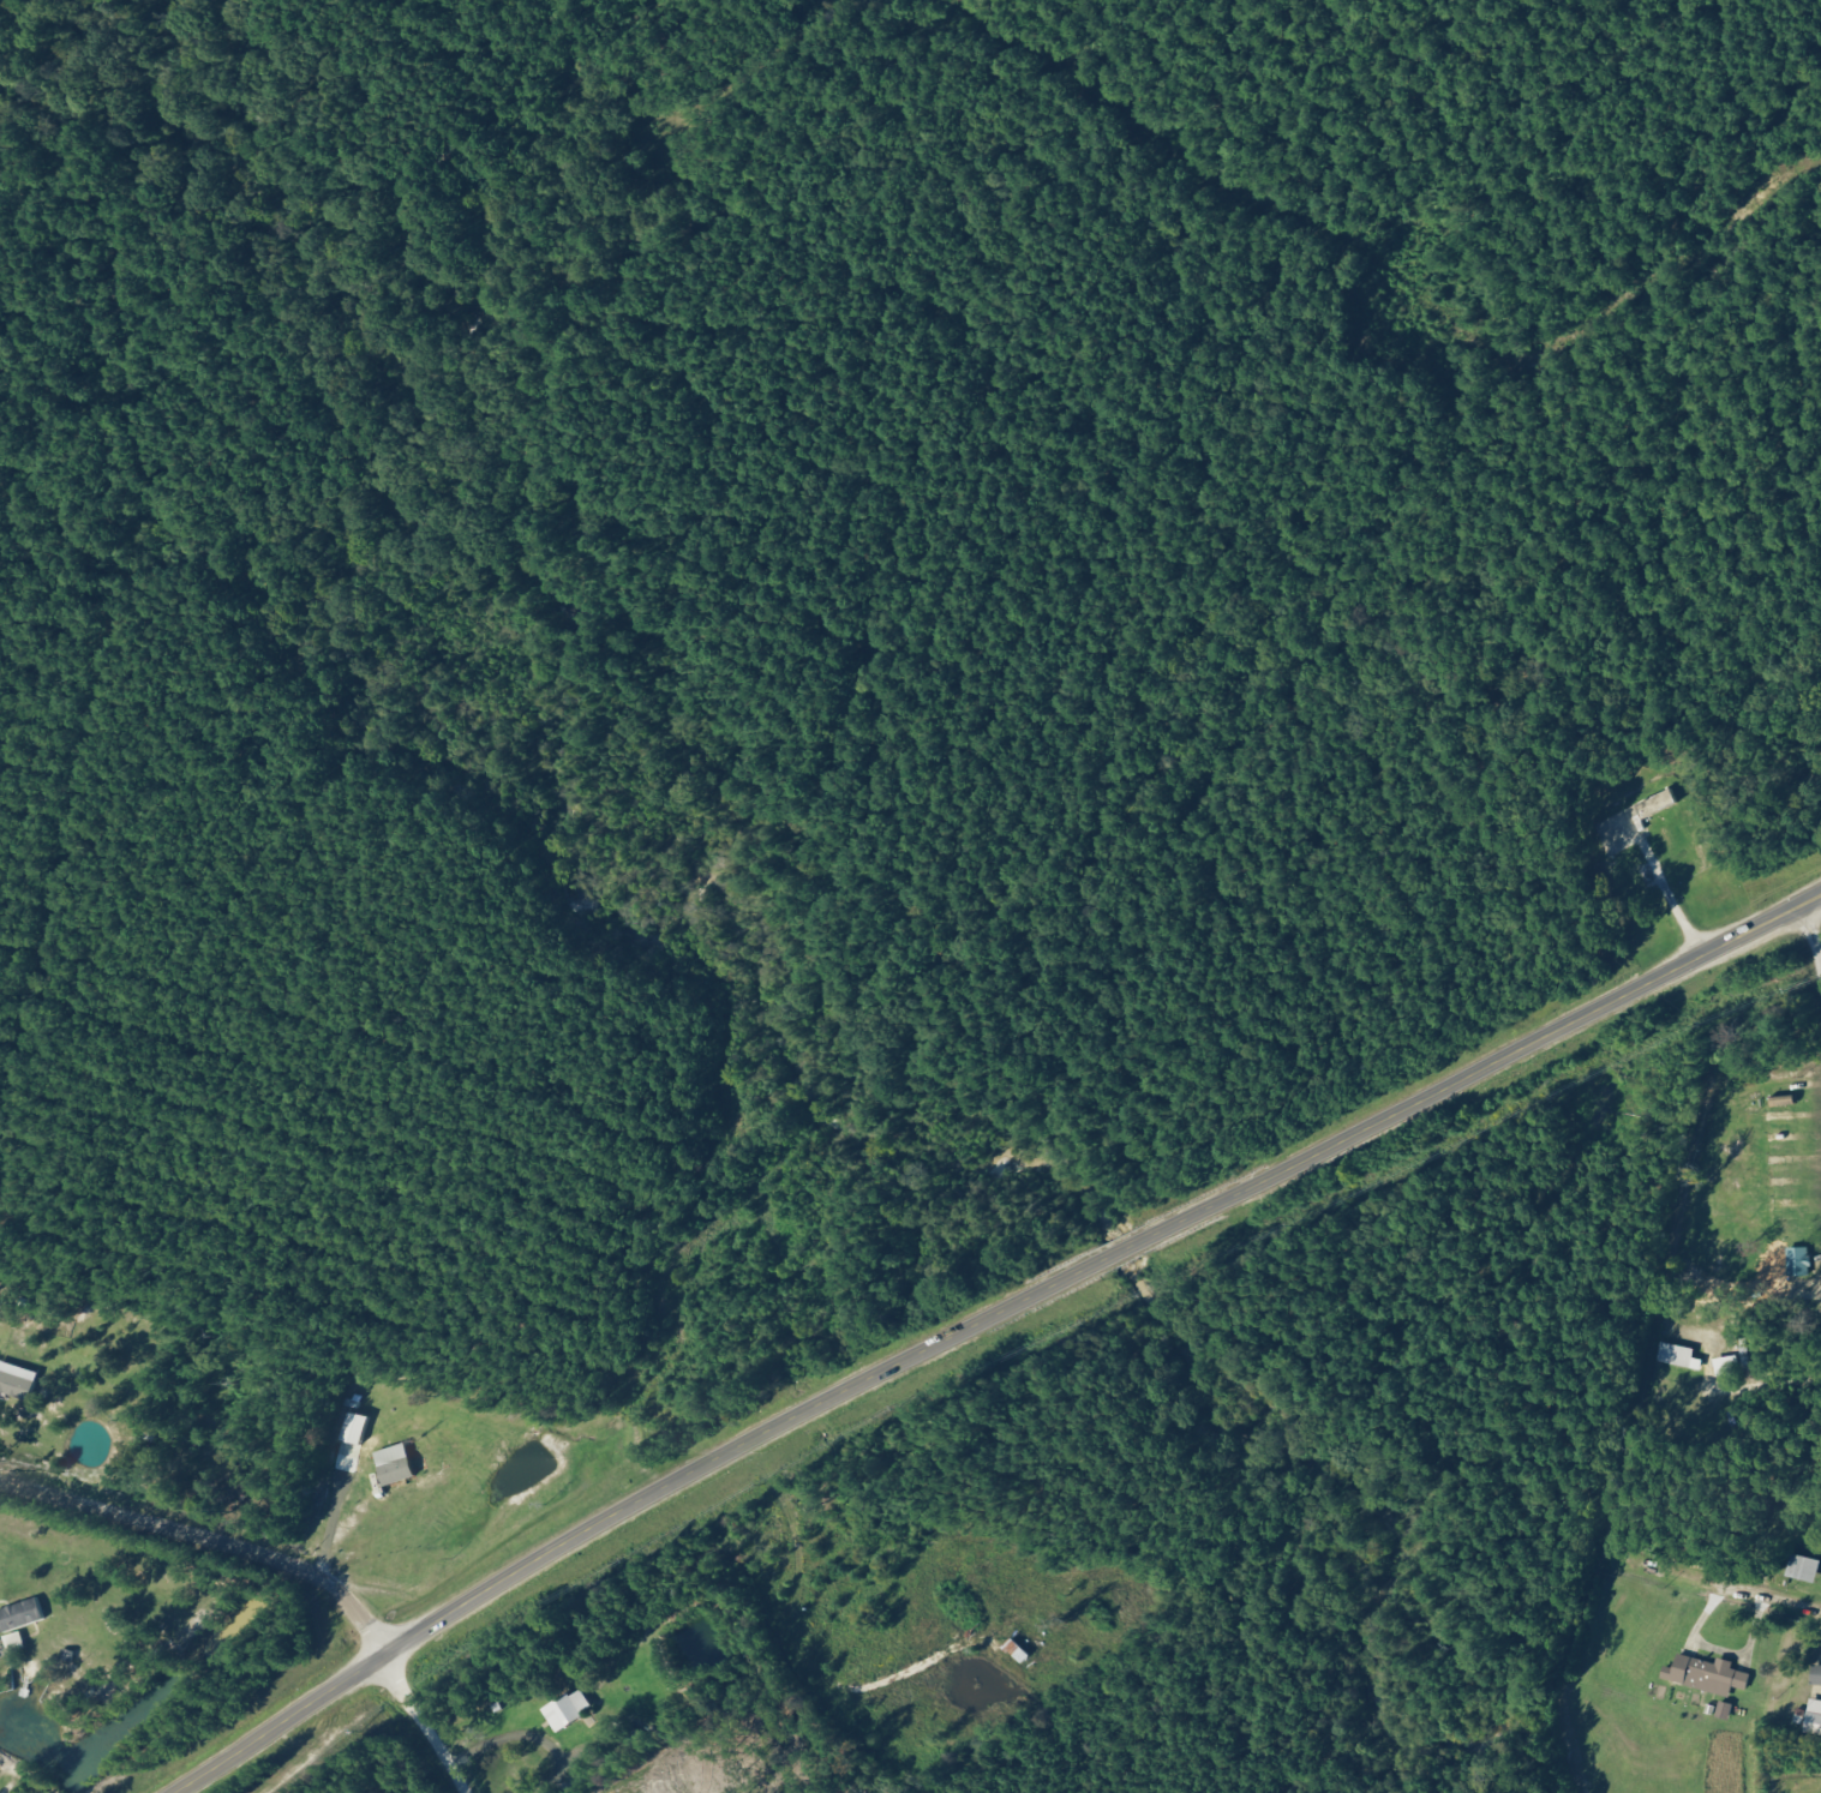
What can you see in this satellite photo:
building: (1657, 804)
road: (1814, 1061)
building: (1799, 1261)
road: (984, 1320)
building: (1678, 1356)
building: (1729, 1365)
building: (17, 1380)
building: (353, 1434)
building: (395, 1464)
road: (211, 1545)
building: (1805, 1569)
building: (22, 1614)
building: (1708, 1674)
building: (1816, 1675)
building: (569, 1709)
building: (1726, 1710)
building: (1814, 1717)
road: (432, 1721)

